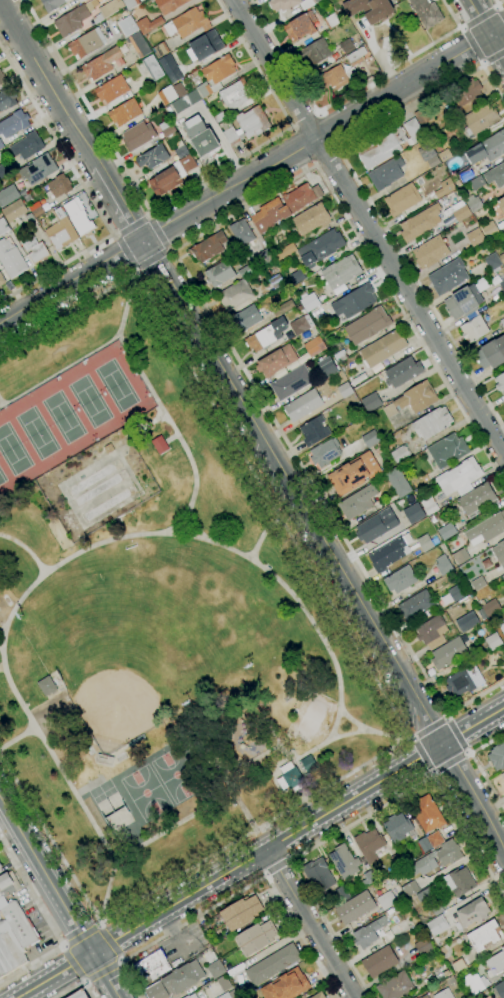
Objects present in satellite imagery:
building: (81, 1)
building: (130, 3)
building: (51, 4)
building: (290, 4)
road: (498, 4)
building: (169, 5)
building: (370, 9)
road: (501, 9)
building: (108, 10)
building: (427, 12)
road: (480, 16)
building: (71, 21)
building: (330, 22)
building: (187, 23)
building: (149, 25)
building: (127, 27)
building: (300, 27)
road: (488, 29)
building: (87, 43)
building: (138, 44)
building: (205, 46)
building: (347, 46)
road: (471, 46)
building: (160, 50)
building: (318, 51)
building: (354, 58)
road: (493, 58)
building: (101, 63)
building: (153, 68)
building: (170, 69)
building: (215, 75)
building: (336, 77)
building: (1, 80)
road: (49, 83)
building: (112, 89)
building: (179, 89)
building: (465, 91)
building: (235, 94)
building: (167, 95)
road: (347, 95)
building: (7, 98)
building: (186, 101)
building: (125, 112)
building: (421, 115)
building: (220, 116)
road: (304, 120)
building: (480, 120)
building: (14, 123)
building: (245, 125)
building: (166, 128)
building: (138, 136)
building: (200, 136)
building: (1, 144)
building: (389, 144)
building: (28, 145)
building: (487, 148)
building: (180, 149)
building: (429, 155)
building: (444, 155)
building: (152, 157)
road: (328, 158)
building: (36, 170)
building: (2, 172)
building: (386, 173)
building: (465, 174)
building: (172, 175)
building: (495, 175)
road: (253, 177)
building: (476, 183)
building: (58, 187)
building: (444, 188)
building: (8, 195)
road: (90, 196)
road: (177, 197)
road: (368, 199)
building: (402, 199)
building: (473, 203)
road: (121, 204)
building: (501, 204)
building: (284, 206)
building: (36, 209)
building: (14, 210)
building: (456, 213)
road: (147, 215)
road: (149, 216)
building: (78, 217)
building: (312, 218)
building: (420, 223)
road: (131, 224)
building: (3, 226)
road: (369, 226)
building: (490, 229)
building: (62, 232)
road: (158, 232)
building: (241, 232)
road: (115, 233)
road: (114, 236)
building: (474, 237)
building: (212, 247)
building: (321, 247)
road: (169, 248)
building: (35, 249)
road: (168, 251)
building: (284, 251)
road: (123, 252)
building: (430, 252)
building: (265, 255)
building: (501, 257)
building: (11, 258)
road: (151, 260)
building: (492, 262)
road: (133, 269)
road: (136, 270)
building: (244, 271)
building: (341, 272)
building: (219, 274)
building: (297, 276)
building: (448, 276)
building: (2, 279)
road: (188, 280)
building: (277, 281)
building: (501, 285)
building: (0, 287)
building: (235, 295)
building: (308, 299)
building: (354, 301)
building: (464, 302)
building: (284, 307)
building: (248, 317)
building: (502, 322)
building: (301, 324)
building: (367, 325)
building: (473, 329)
building: (267, 335)
building: (314, 346)
building: (383, 348)
building: (491, 354)
building: (340, 356)
building: (276, 360)
building: (329, 369)
road: (60, 371)
building: (403, 372)
building: (291, 382)
building: (500, 382)
park: (115, 385)
building: (345, 390)
building: (417, 397)
road: (2, 401)
park: (88, 401)
building: (371, 402)
building: (503, 404)
road: (164, 405)
building: (303, 405)
building: (390, 411)
park: (62, 417)
building: (432, 423)
building: (314, 431)
park: (36, 433)
building: (370, 438)
building: (160, 445)
building: (108, 448)
building: (447, 450)
park: (12, 451)
building: (324, 453)
building: (400, 454)
building: (354, 474)
building: (460, 474)
park: (2, 477)
park: (92, 477)
building: (398, 482)
park: (99, 488)
building: (477, 499)
building: (426, 501)
building: (358, 502)
park: (107, 504)
building: (414, 513)
road: (199, 525)
building: (375, 526)
building: (487, 527)
building: (446, 531)
road: (264, 536)
road: (327, 544)
road: (27, 549)
road: (84, 550)
building: (398, 551)
building: (499, 553)
building: (460, 556)
building: (444, 564)
building: (503, 576)
building: (400, 579)
building: (478, 583)
building: (457, 593)
building: (416, 605)
building: (490, 606)
park: (157, 614)
park: (161, 617)
building: (467, 621)
building: (501, 626)
park: (254, 630)
building: (432, 632)
road: (1, 638)
building: (494, 641)
building: (503, 641)
building: (449, 652)
park: (185, 662)
road: (374, 676)
building: (464, 680)
park: (127, 682)
building: (46, 686)
road: (445, 718)
road: (448, 718)
park: (310, 719)
road: (337, 724)
road: (472, 725)
road: (429, 728)
road: (456, 734)
road: (412, 737)
road: (18, 738)
road: (412, 738)
traffic signals: (441, 745)
road: (467, 751)
road: (466, 754)
road: (422, 755)
building: (497, 756)
building: (103, 759)
road: (449, 762)
building: (308, 764)
road: (476, 766)
road: (430, 772)
road: (433, 772)
park: (175, 774)
building: (502, 776)
building: (290, 778)
building: (503, 783)
road: (240, 790)
park: (145, 793)
park: (110, 805)
road: (246, 811)
building: (427, 813)
road: (354, 822)
building: (398, 827)
building: (435, 839)
building: (369, 844)
building: (424, 844)
road: (30, 848)
road: (266, 849)
building: (440, 857)
building: (345, 861)
building: (396, 862)
road: (288, 864)
building: (0, 866)
road: (276, 870)
building: (318, 874)
building: (398, 876)
road: (266, 877)
building: (368, 878)
building: (459, 882)
building: (7, 886)
building: (410, 889)
building: (427, 892)
building: (342, 894)
road: (235, 895)
building: (386, 900)
building: (356, 908)
building: (397, 908)
building: (437, 910)
building: (240, 913)
building: (472, 913)
road: (311, 923)
building: (19, 924)
road: (48, 925)
road: (97, 925)
building: (437, 925)
road: (76, 927)
road: (174, 932)
building: (369, 933)
building: (484, 936)
building: (255, 937)
road: (81, 938)
road: (109, 942)
road: (62, 946)
building: (423, 946)
building: (9, 948)
traffic signals: (92, 954)
road: (120, 960)
building: (379, 961)
road: (72, 964)
building: (153, 964)
building: (272, 964)
building: (495, 964)
building: (458, 965)
building: (216, 969)
road: (102, 970)
road: (54, 975)
road: (105, 975)
building: (183, 978)
road: (84, 981)
building: (223, 983)
building: (472, 984)
road: (78, 985)
building: (286, 985)
building: (395, 986)
building: (499, 990)
building: (156, 991)
building: (244, 992)
building: (79, 994)
building: (228, 994)
building: (443, 994)
building: (196, 995)
building: (319, 995)

